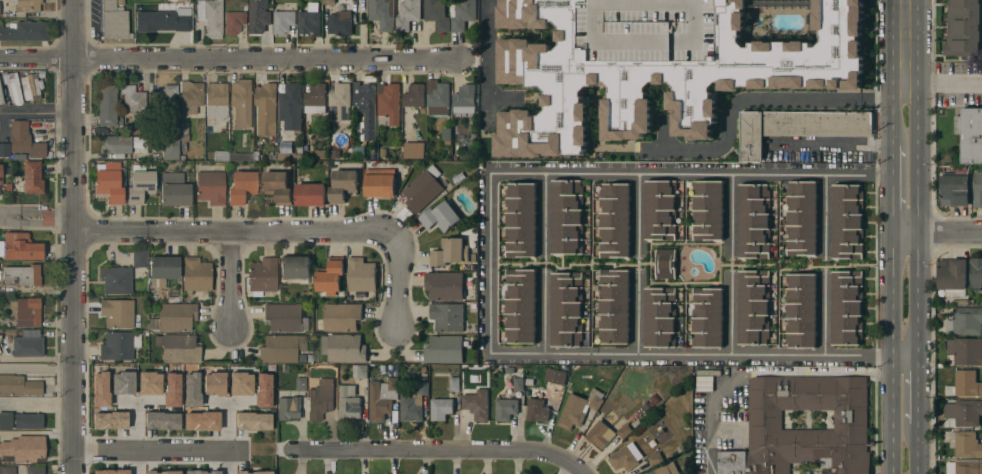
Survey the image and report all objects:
building: (173, 0)
building: (186, 0)
building: (120, 2)
building: (329, 2)
building: (28, 5)
building: (382, 14)
building: (408, 14)
building: (436, 14)
building: (463, 15)
building: (211, 16)
building: (259, 16)
building: (309, 18)
building: (114, 20)
building: (162, 20)
building: (234, 21)
building: (283, 21)
building: (340, 23)
building: (963, 28)
building: (709, 29)
building: (25, 31)
road: (907, 50)
road: (232, 61)
road: (484, 64)
building: (853, 80)
building: (759, 81)
building: (797, 83)
building: (30, 86)
building: (14, 87)
road: (944, 87)
building: (191, 95)
building: (414, 96)
building: (437, 97)
building: (1, 98)
building: (165, 98)
building: (315, 99)
building: (464, 99)
building: (134, 100)
building: (216, 100)
road: (829, 100)
building: (339, 101)
building: (242, 102)
building: (266, 102)
building: (107, 104)
building: (388, 104)
building: (291, 108)
building: (367, 108)
building: (674, 109)
road: (38, 111)
road: (892, 118)
building: (797, 127)
building: (970, 134)
building: (446, 135)
building: (184, 136)
building: (24, 140)
building: (117, 144)
road: (831, 145)
building: (170, 147)
building: (414, 149)
building: (5, 150)
building: (358, 153)
building: (232, 155)
building: (292, 155)
building: (335, 155)
building: (373, 157)
building: (1, 173)
road: (690, 174)
building: (32, 177)
building: (111, 182)
building: (380, 182)
building: (140, 185)
building: (343, 185)
building: (242, 186)
building: (211, 187)
building: (278, 187)
building: (175, 189)
building: (423, 189)
road: (892, 189)
building: (977, 189)
building: (954, 190)
building: (311, 195)
building: (660, 210)
building: (708, 211)
road: (543, 213)
road: (731, 213)
road: (638, 214)
road: (823, 214)
building: (567, 216)
building: (440, 217)
building: (801, 218)
building: (521, 220)
building: (614, 221)
building: (754, 221)
building: (847, 222)
road: (916, 226)
road: (199, 230)
road: (937, 234)
road: (76, 237)
building: (21, 247)
building: (449, 252)
building: (139, 258)
road: (489, 263)
building: (665, 264)
building: (295, 267)
building: (163, 269)
building: (975, 273)
building: (22, 274)
building: (196, 274)
building: (361, 275)
building: (262, 276)
building: (330, 276)
building: (952, 277)
building: (117, 279)
road: (400, 282)
road: (233, 284)
building: (444, 285)
building: (520, 305)
building: (614, 306)
building: (753, 307)
building: (847, 307)
building: (566, 309)
building: (801, 310)
building: (26, 311)
building: (119, 313)
road: (636, 313)
road: (543, 315)
road: (824, 315)
building: (660, 316)
road: (730, 316)
building: (173, 317)
building: (284, 317)
building: (341, 317)
building: (448, 317)
building: (707, 318)
building: (965, 321)
building: (0, 338)
building: (119, 345)
building: (27, 346)
building: (178, 347)
building: (281, 347)
building: (343, 348)
building: (444, 349)
building: (965, 351)
road: (702, 354)
road: (892, 354)
road: (38, 367)
building: (360, 372)
road: (812, 373)
building: (554, 376)
building: (122, 382)
building: (149, 382)
building: (213, 382)
building: (240, 382)
building: (301, 383)
building: (454, 384)
building: (513, 384)
building: (965, 384)
building: (18, 385)
building: (559, 386)
building: (100, 388)
building: (171, 389)
building: (191, 389)
building: (262, 389)
road: (917, 390)
building: (321, 398)
building: (382, 398)
building: (348, 403)
building: (413, 403)
building: (476, 404)
road: (38, 405)
building: (537, 406)
building: (288, 407)
building: (579, 408)
building: (441, 409)
building: (505, 409)
building: (964, 412)
building: (109, 419)
building: (6, 420)
building: (28, 420)
building: (161, 420)
building: (201, 420)
building: (252, 420)
building: (765, 420)
road: (709, 421)
building: (623, 431)
building: (600, 434)
building: (965, 444)
building: (24, 448)
road: (916, 449)
road: (434, 450)
road: (159, 452)
building: (626, 457)
building: (655, 459)
building: (964, 468)
building: (7, 469)
building: (666, 469)
building: (35, 470)
building: (110, 471)
building: (163, 472)
building: (201, 472)
building: (253, 472)

